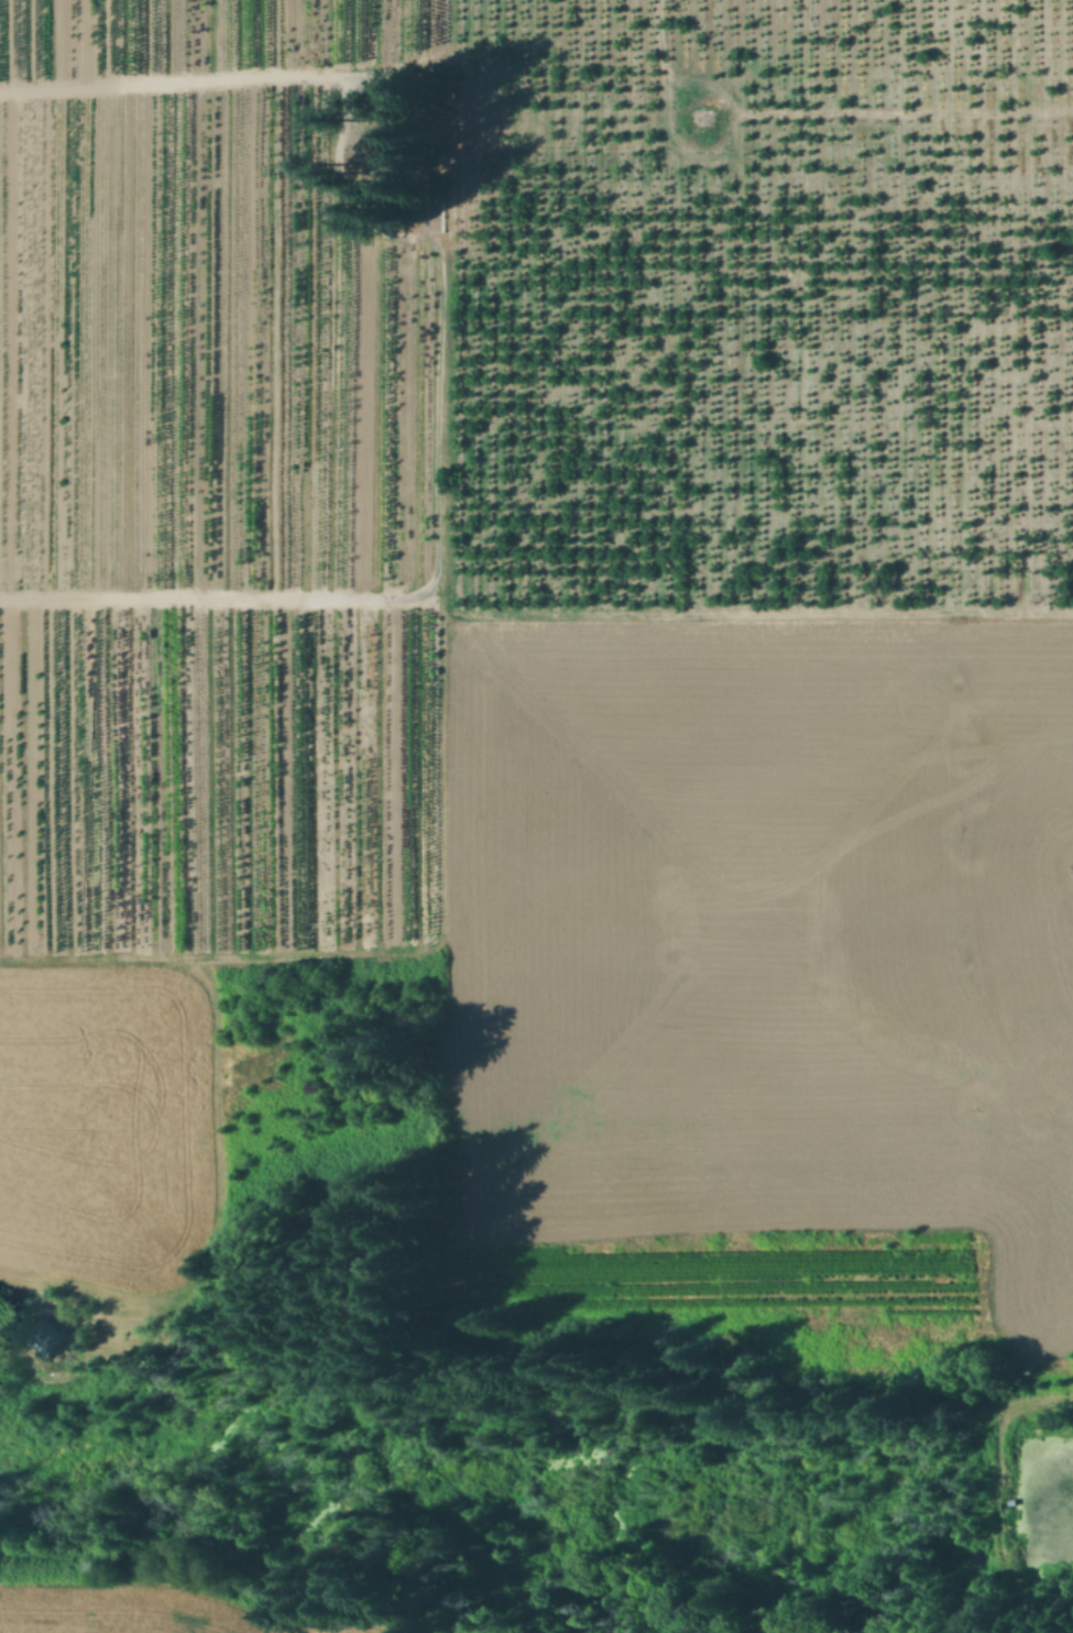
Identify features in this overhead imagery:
road: (431, 346)
crop: (762, 971)
road: (11, 1317)
building: (53, 1338)
crop: (155, 1610)

